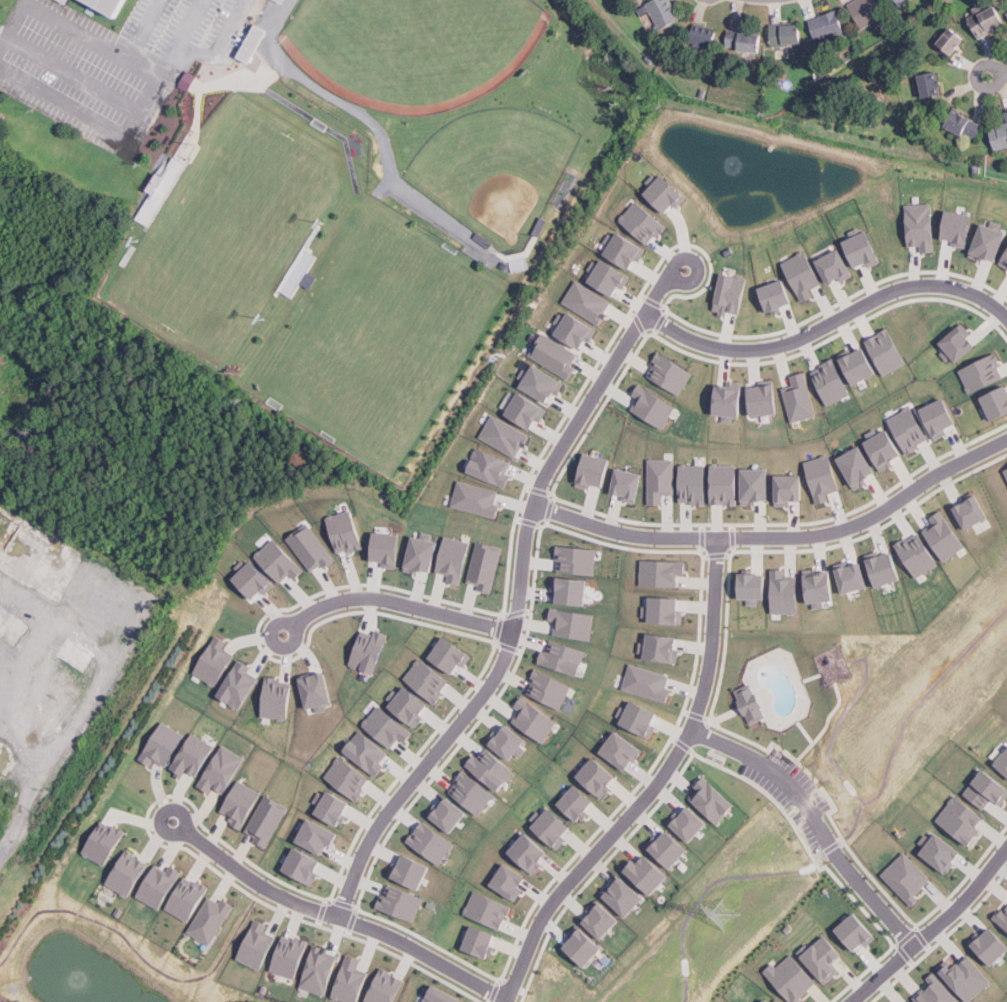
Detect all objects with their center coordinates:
building: (66, 1)
building: (275, 1)
building: (280, 1)
building: (892, 2)
building: (900, 2)
building: (92, 5)
building: (110, 5)
building: (660, 11)
building: (866, 11)
building: (1004, 14)
building: (987, 18)
building: (826, 24)
building: (787, 34)
road: (85, 36)
building: (703, 36)
road: (2, 37)
building: (743, 40)
building: (952, 41)
building: (251, 43)
park: (410, 48)
parking lot: (114, 61)
road: (140, 67)
road: (998, 75)
building: (182, 80)
building: (929, 85)
road: (127, 105)
building: (963, 124)
building: (999, 135)
park: (499, 167)
building: (146, 184)
building: (158, 190)
building: (667, 192)
building: (644, 222)
building: (540, 224)
building: (923, 226)
building: (962, 227)
park: (228, 228)
building: (484, 238)
building: (992, 241)
building: (866, 248)
building: (626, 250)
building: (730, 251)
building: (1005, 262)
building: (517, 264)
building: (837, 266)
building: (803, 274)
building: (609, 276)
building: (732, 294)
building: (779, 295)
building: (588, 302)
road: (828, 323)
building: (576, 329)
building: (961, 344)
building: (889, 352)
building: (555, 355)
building: (861, 365)
building: (671, 373)
building: (984, 373)
building: (832, 381)
building: (542, 383)
building: (766, 398)
building: (801, 398)
building: (731, 400)
building: (998, 403)
building: (653, 405)
building: (529, 410)
building: (929, 415)
building: (942, 417)
building: (911, 429)
building: (506, 436)
building: (886, 447)
building: (491, 466)
building: (859, 466)
building: (595, 470)
building: (1004, 472)
building: (823, 477)
building: (660, 480)
building: (629, 484)
building: (693, 484)
building: (725, 484)
building: (757, 485)
building: (790, 488)
building: (477, 499)
building: (973, 510)
building: (345, 531)
road: (878, 535)
building: (945, 536)
road: (780, 537)
road: (848, 546)
building: (312, 548)
building: (387, 549)
building: (423, 553)
building: (918, 554)
building: (454, 559)
building: (577, 559)
building: (280, 562)
building: (485, 566)
building: (885, 568)
building: (662, 573)
building: (853, 577)
building: (255, 579)
building: (755, 587)
building: (820, 587)
building: (572, 590)
road: (519, 593)
building: (785, 593)
road: (394, 601)
building: (665, 610)
building: (574, 623)
road: (713, 636)
road: (695, 646)
building: (662, 648)
building: (371, 650)
building: (452, 656)
building: (565, 657)
building: (215, 662)
building: (428, 681)
building: (649, 683)
building: (238, 685)
building: (550, 688)
road: (686, 688)
building: (316, 691)
building: (276, 699)
building: (752, 703)
building: (409, 705)
building: (640, 718)
building: (536, 720)
building: (387, 727)
building: (510, 741)
building: (163, 745)
building: (624, 750)
building: (367, 753)
building: (193, 756)
building: (1003, 762)
building: (222, 770)
building: (493, 770)
building: (600, 778)
building: (348, 779)
building: (987, 789)
building: (473, 792)
building: (714, 799)
building: (579, 803)
building: (241, 804)
road: (21, 807)
building: (334, 808)
building: (450, 815)
building: (267, 820)
road: (817, 820)
building: (961, 820)
building: (691, 824)
building: (553, 827)
building: (319, 836)
building: (105, 842)
building: (432, 842)
building: (669, 849)
building: (942, 851)
building: (531, 854)
road: (588, 861)
building: (304, 866)
building: (412, 872)
building: (128, 873)
building: (649, 875)
building: (908, 878)
building: (512, 882)
building: (160, 886)
building: (626, 897)
building: (188, 898)
building: (402, 903)
building: (490, 909)
road: (336, 914)
power tower: (724, 914)
building: (1003, 917)
building: (603, 919)
building: (212, 920)
building: (788, 928)
road: (934, 928)
building: (858, 933)
building: (482, 942)
building: (258, 946)
building: (584, 947)
building: (992, 947)
building: (290, 957)
building: (825, 959)
building: (320, 970)
building: (967, 978)
building: (792, 979)
building: (351, 980)
building: (386, 987)
building: (939, 991)
building: (444, 997)
building: (759, 1000)
building: (778, 1000)
building: (768, 1001)
building: (904, 1001)
building: (911, 1001)

